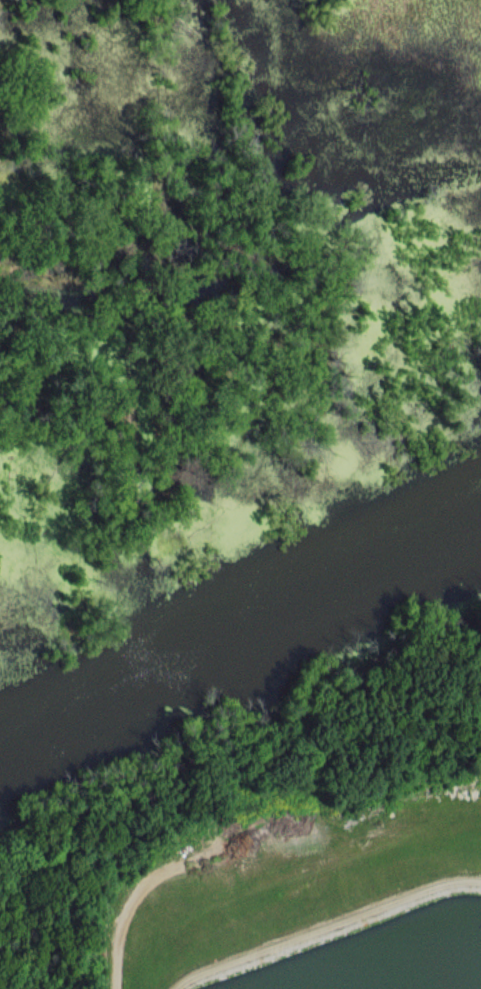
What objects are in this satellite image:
river: (234, 615)
road: (142, 894)

